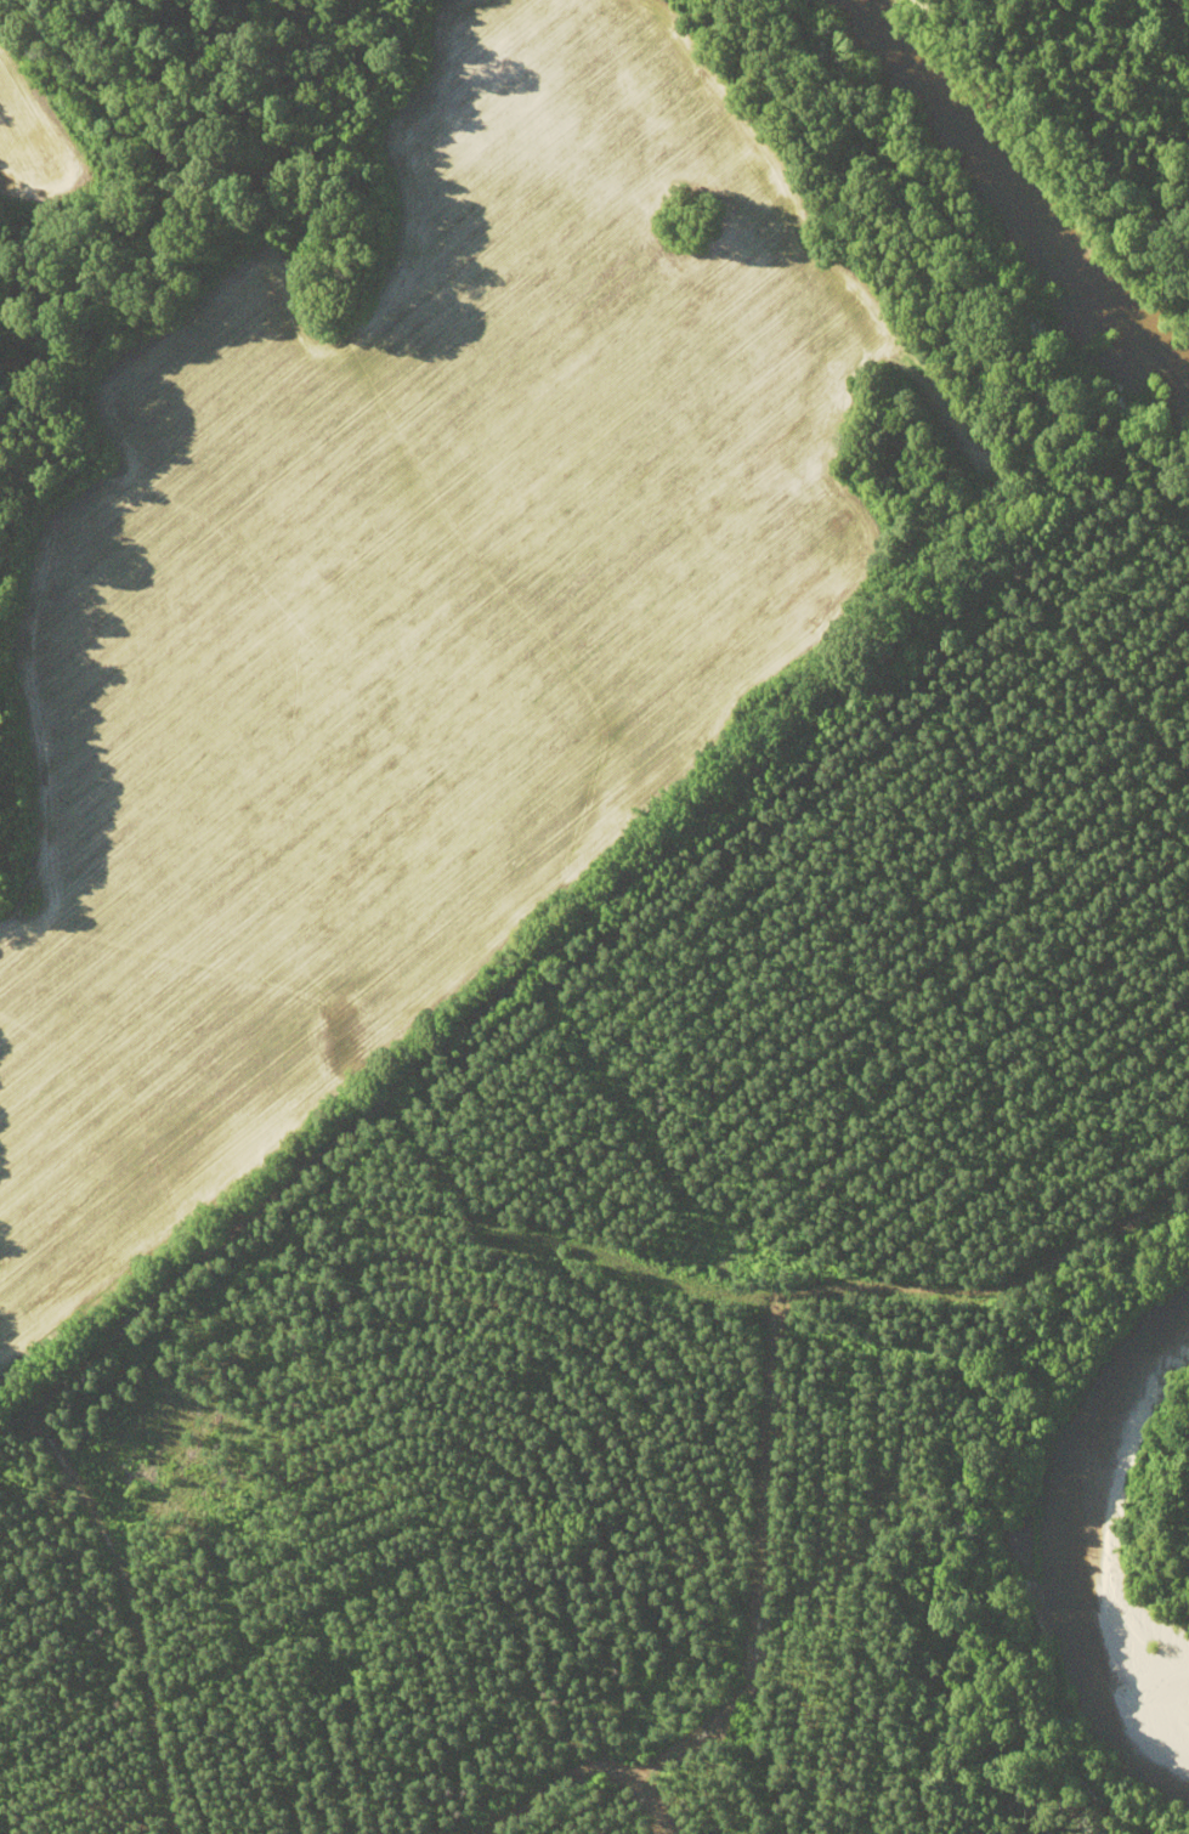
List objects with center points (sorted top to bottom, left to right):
road: (445, 995)

